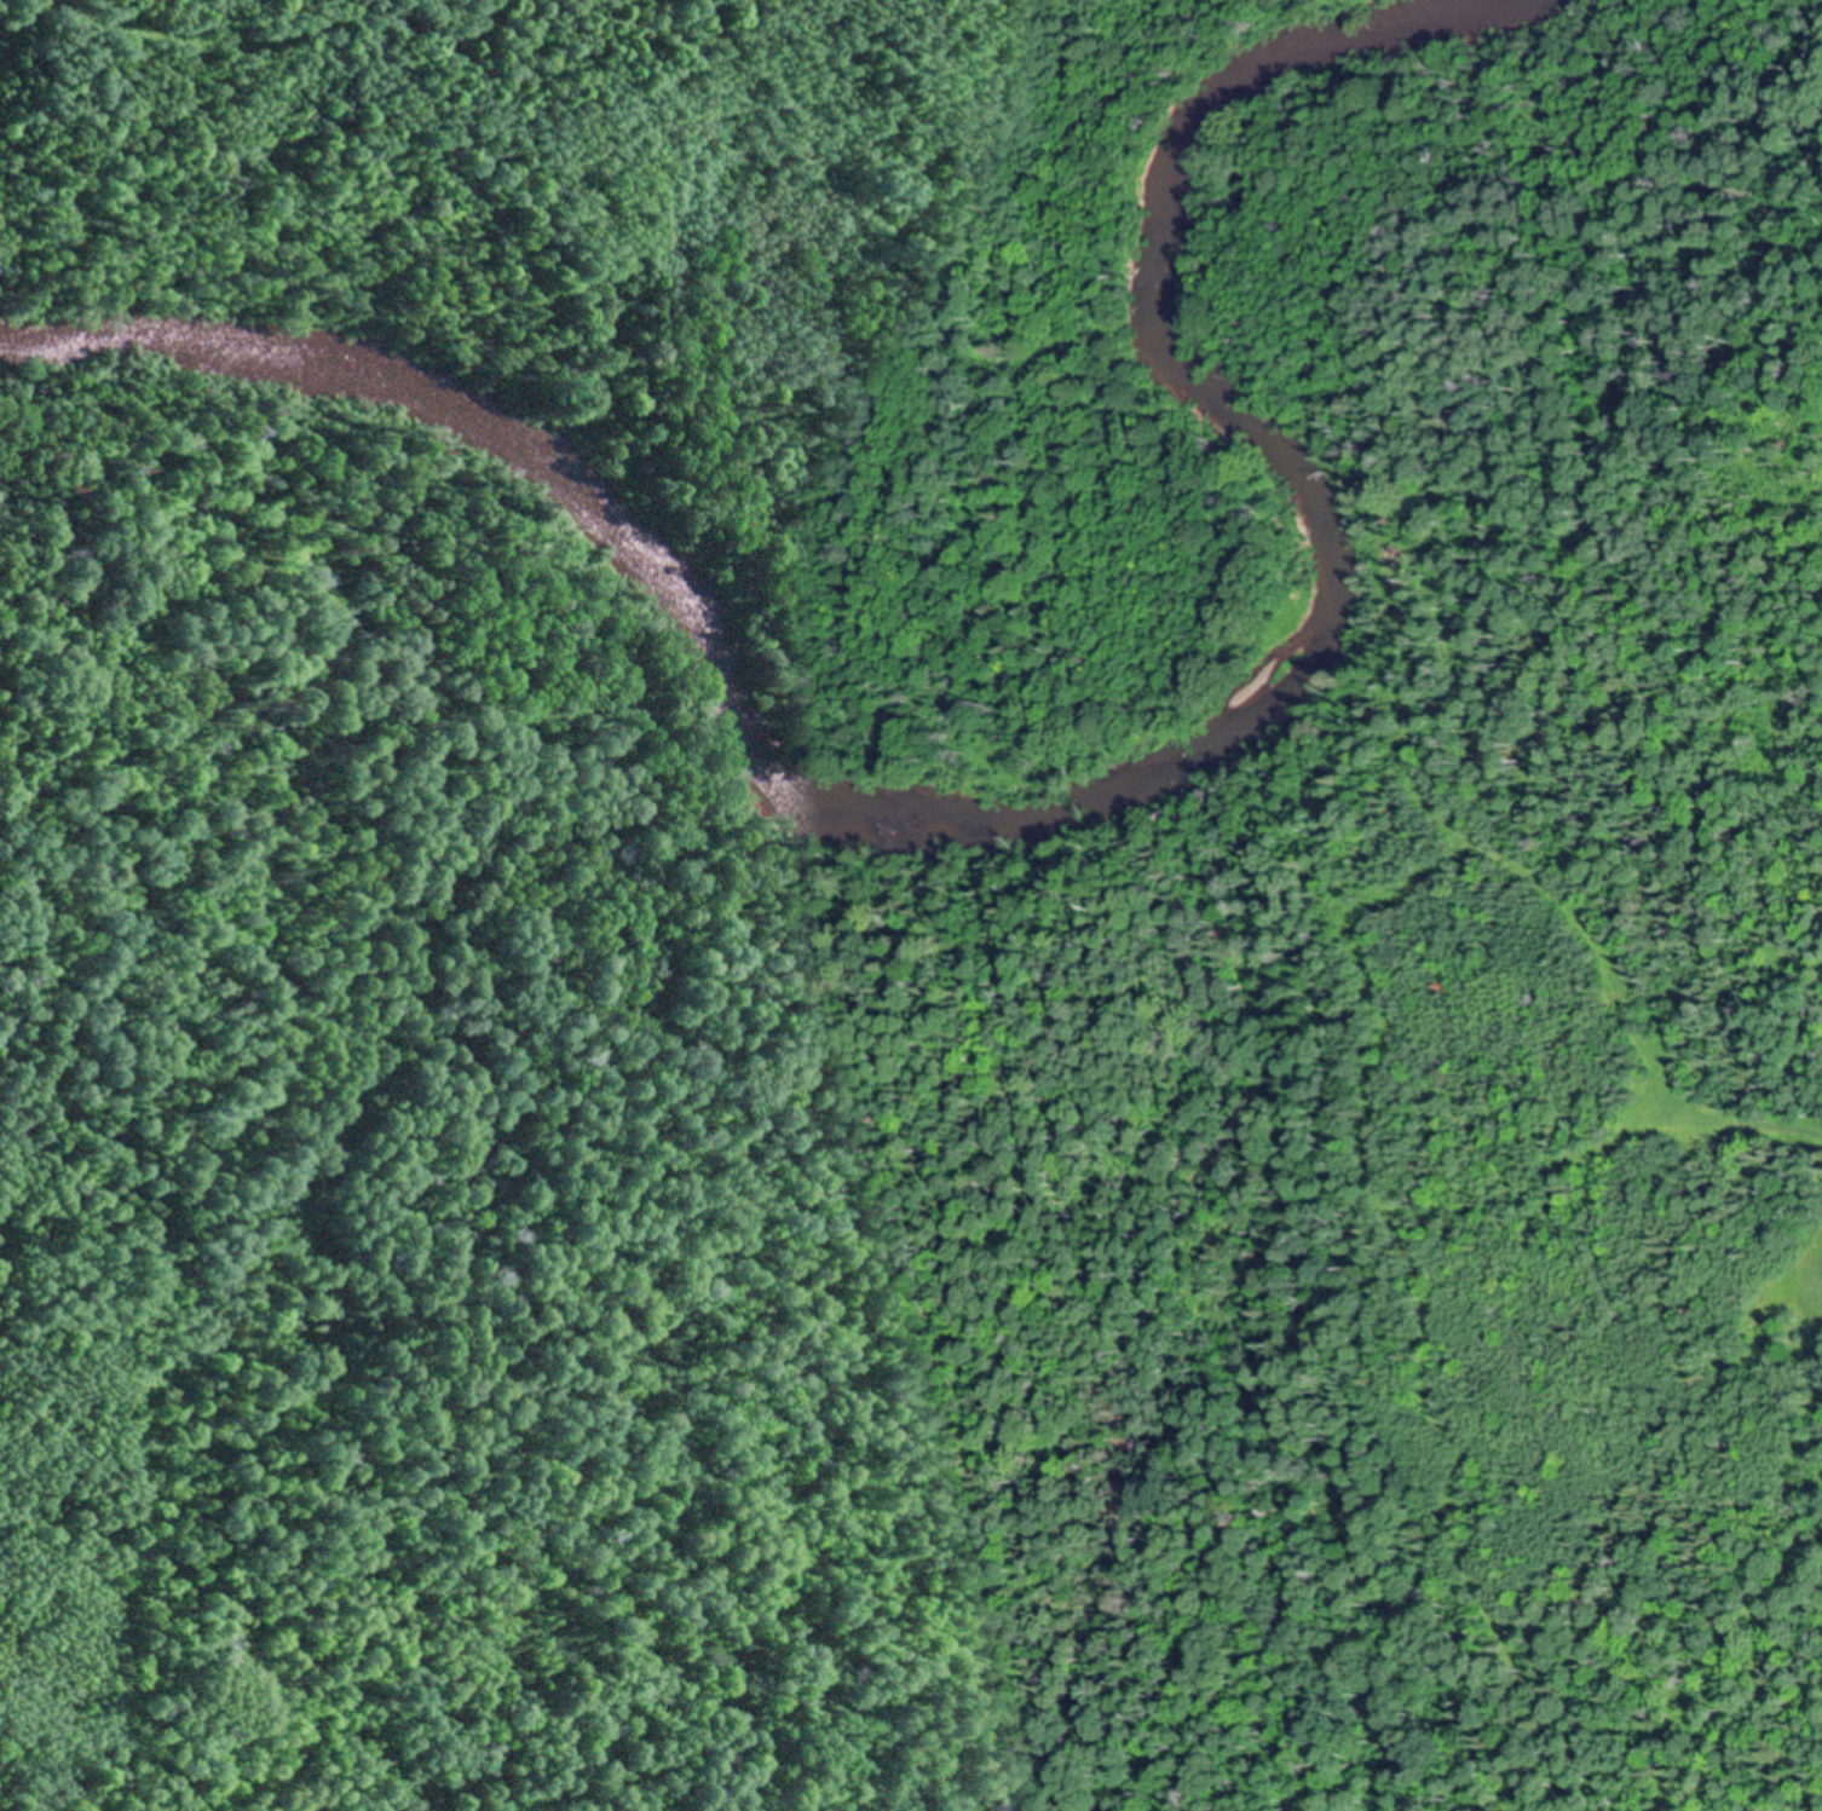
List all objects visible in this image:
river: (1059, 806)

